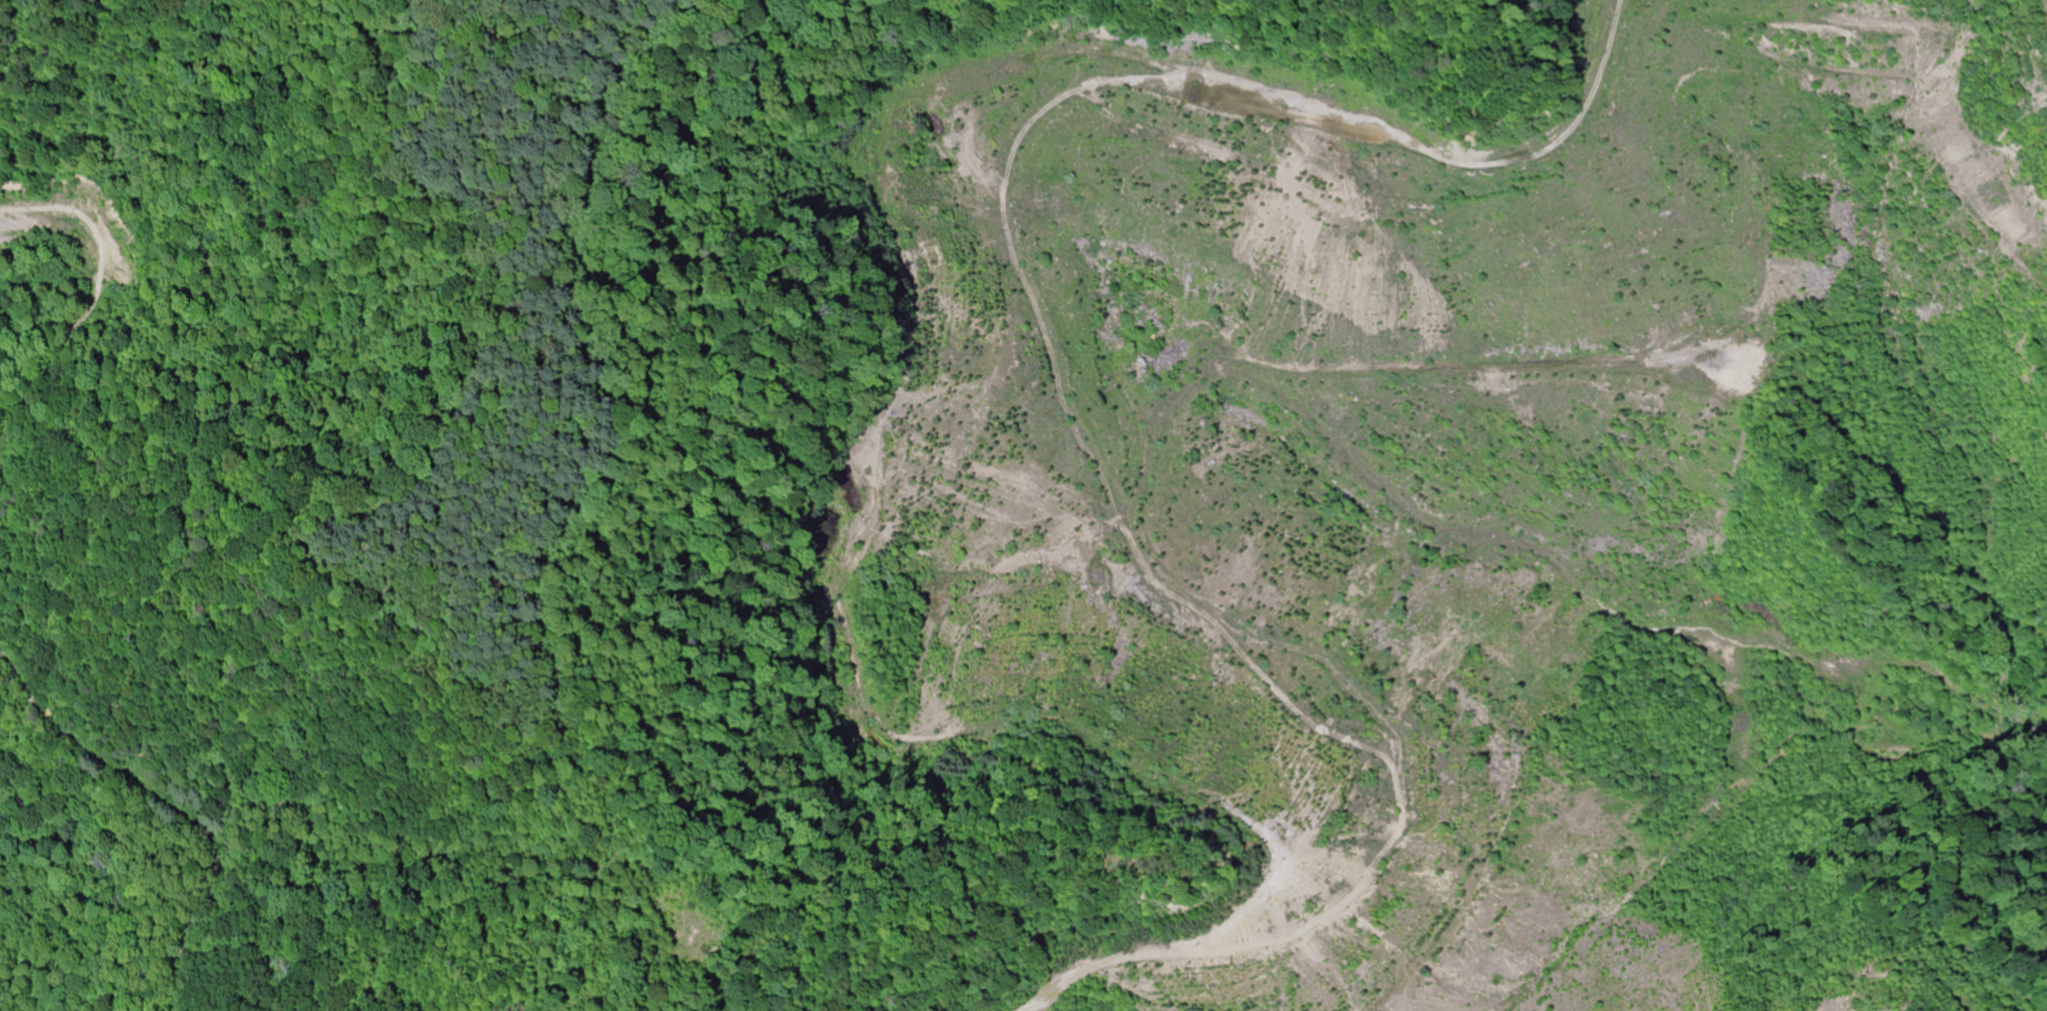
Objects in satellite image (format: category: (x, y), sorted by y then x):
road: (1305, 122)
road: (17, 213)
road: (981, 745)

